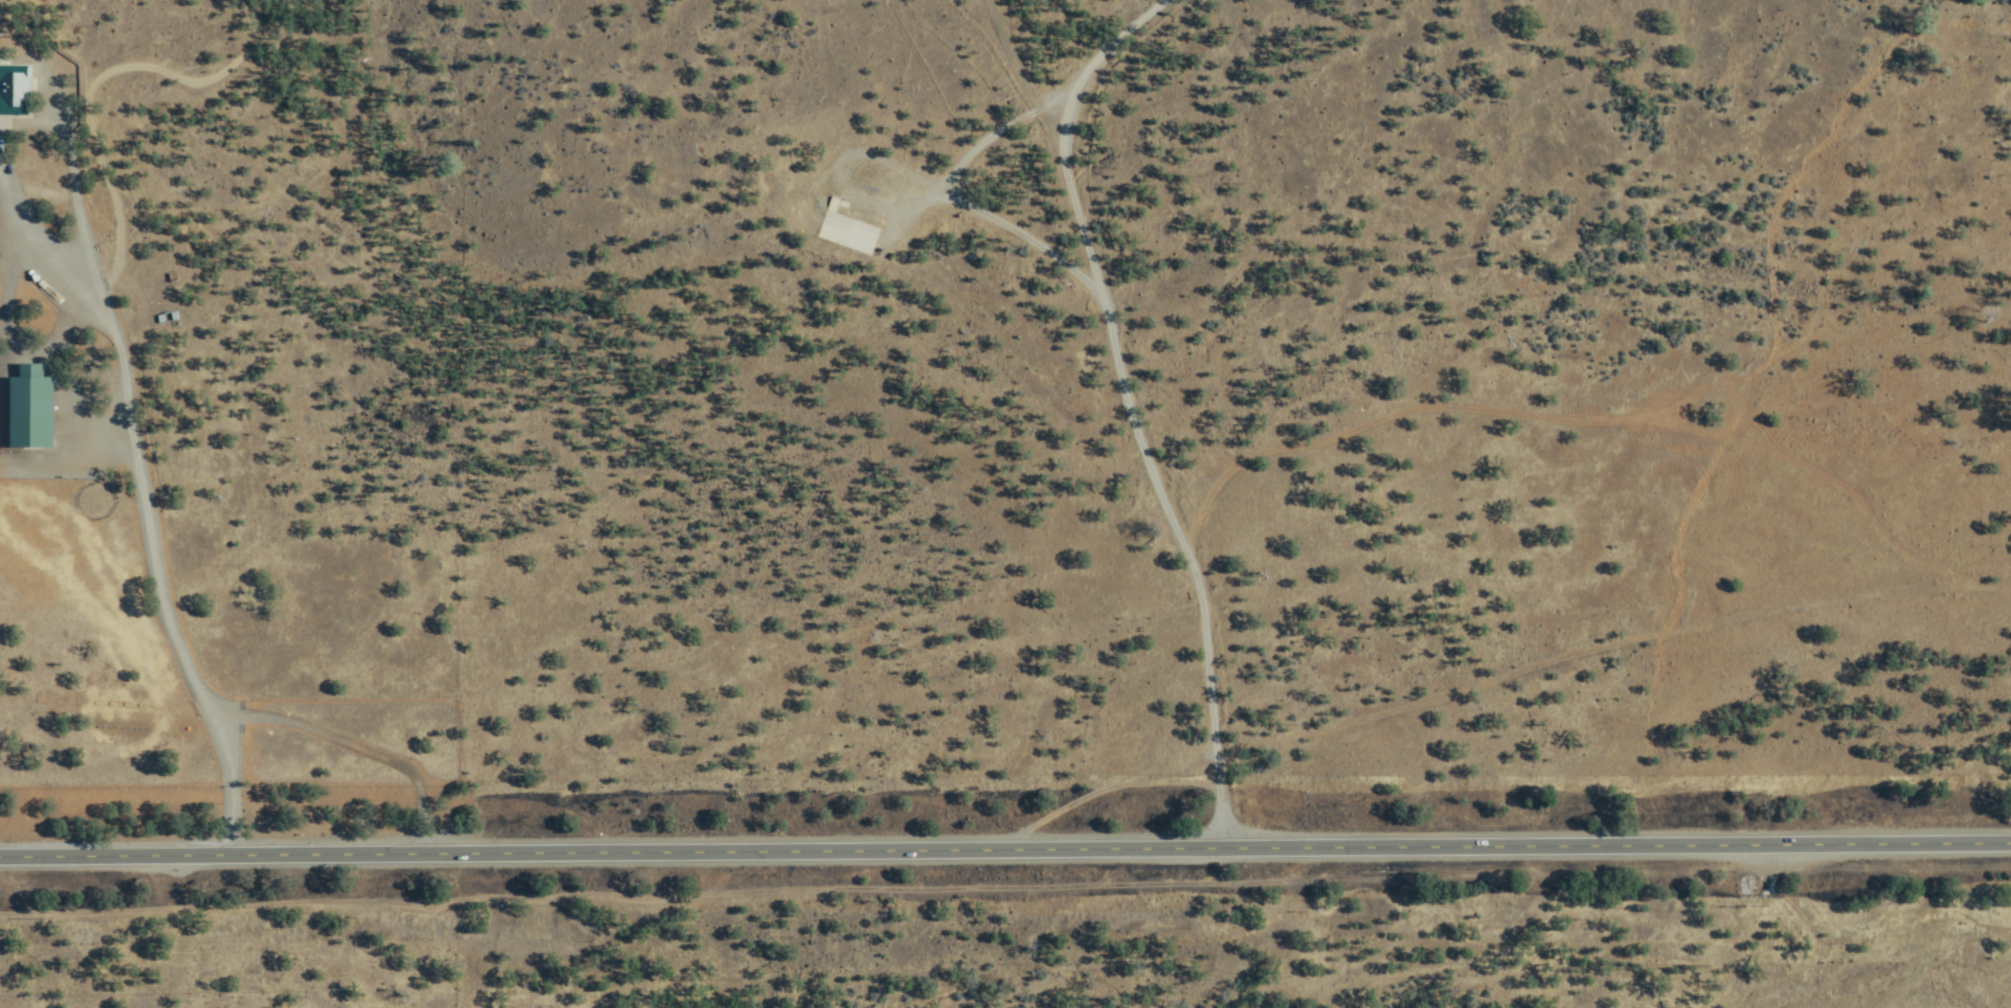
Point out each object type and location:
building: (13, 90)
road: (69, 180)
building: (845, 230)
road: (1, 316)
road: (1122, 407)
building: (31, 408)
road: (154, 575)
road: (1005, 849)

